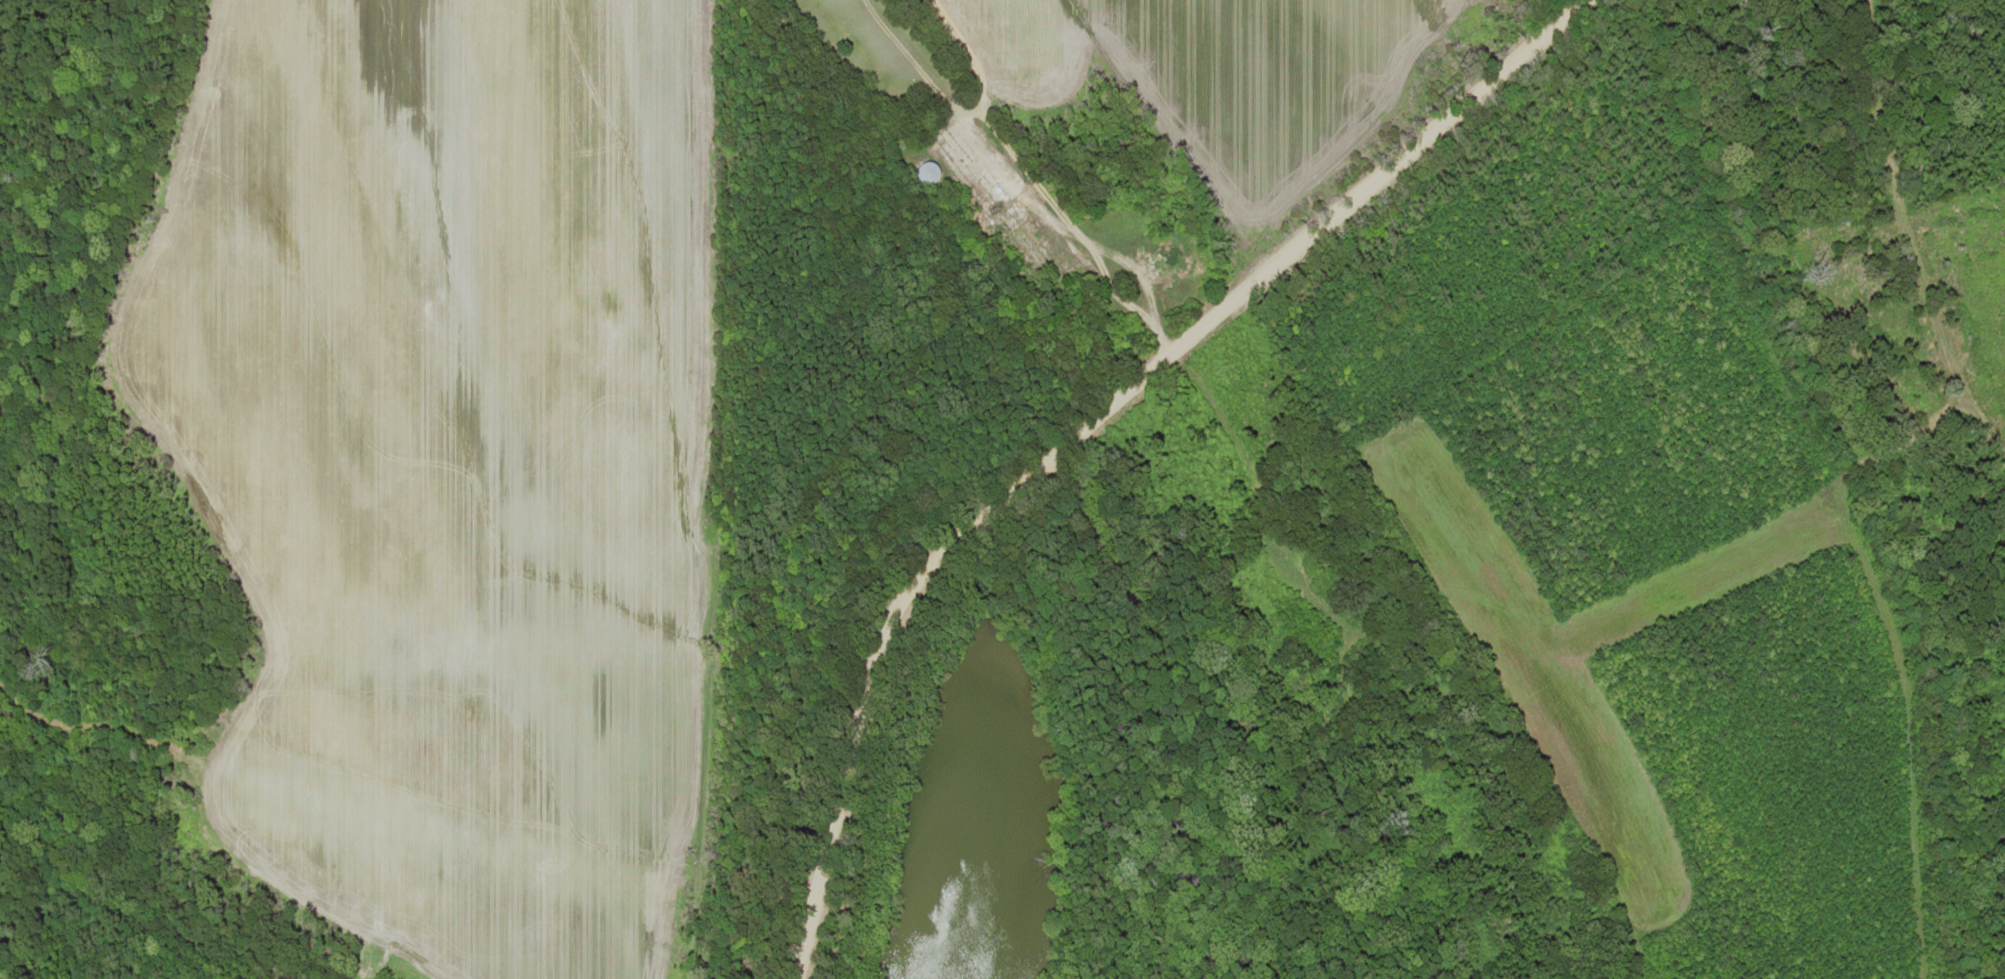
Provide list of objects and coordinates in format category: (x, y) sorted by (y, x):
road: (1020, 166)
building: (927, 173)
road: (1905, 238)
road: (1082, 422)

